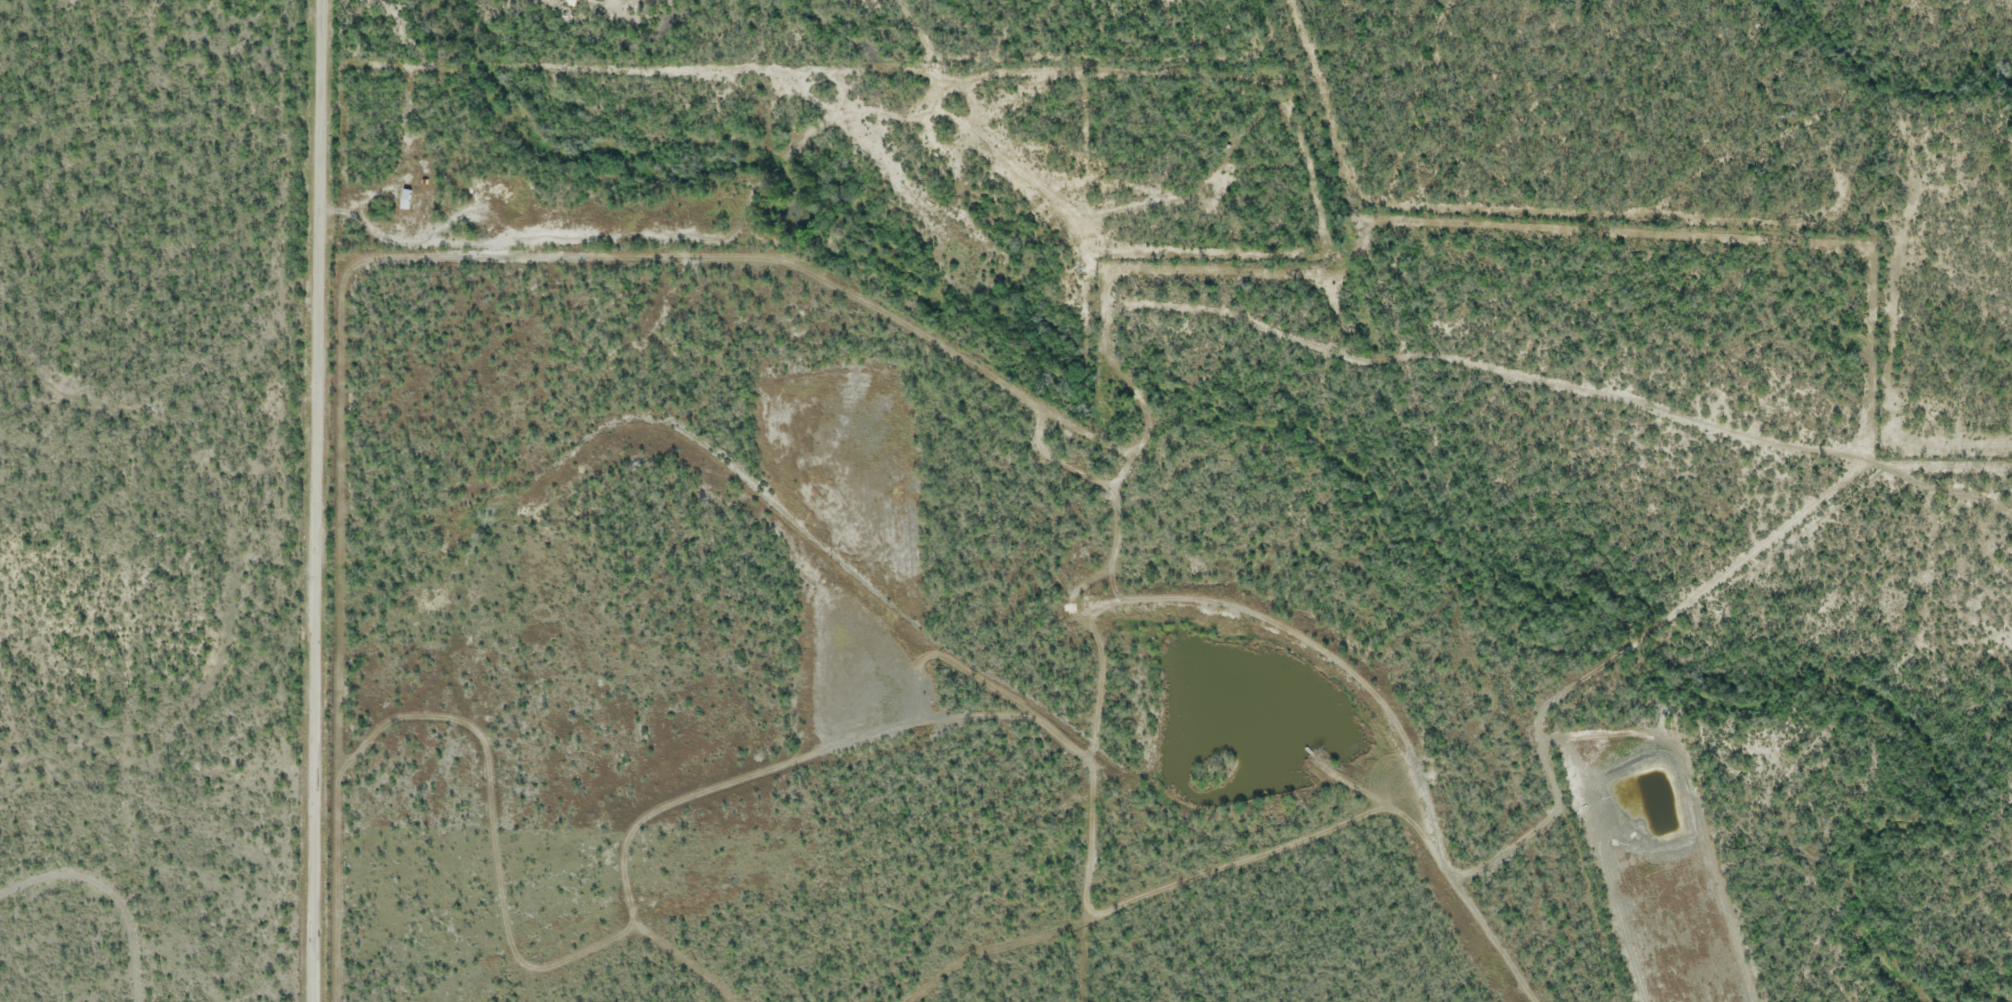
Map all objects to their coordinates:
road: (317, 501)

